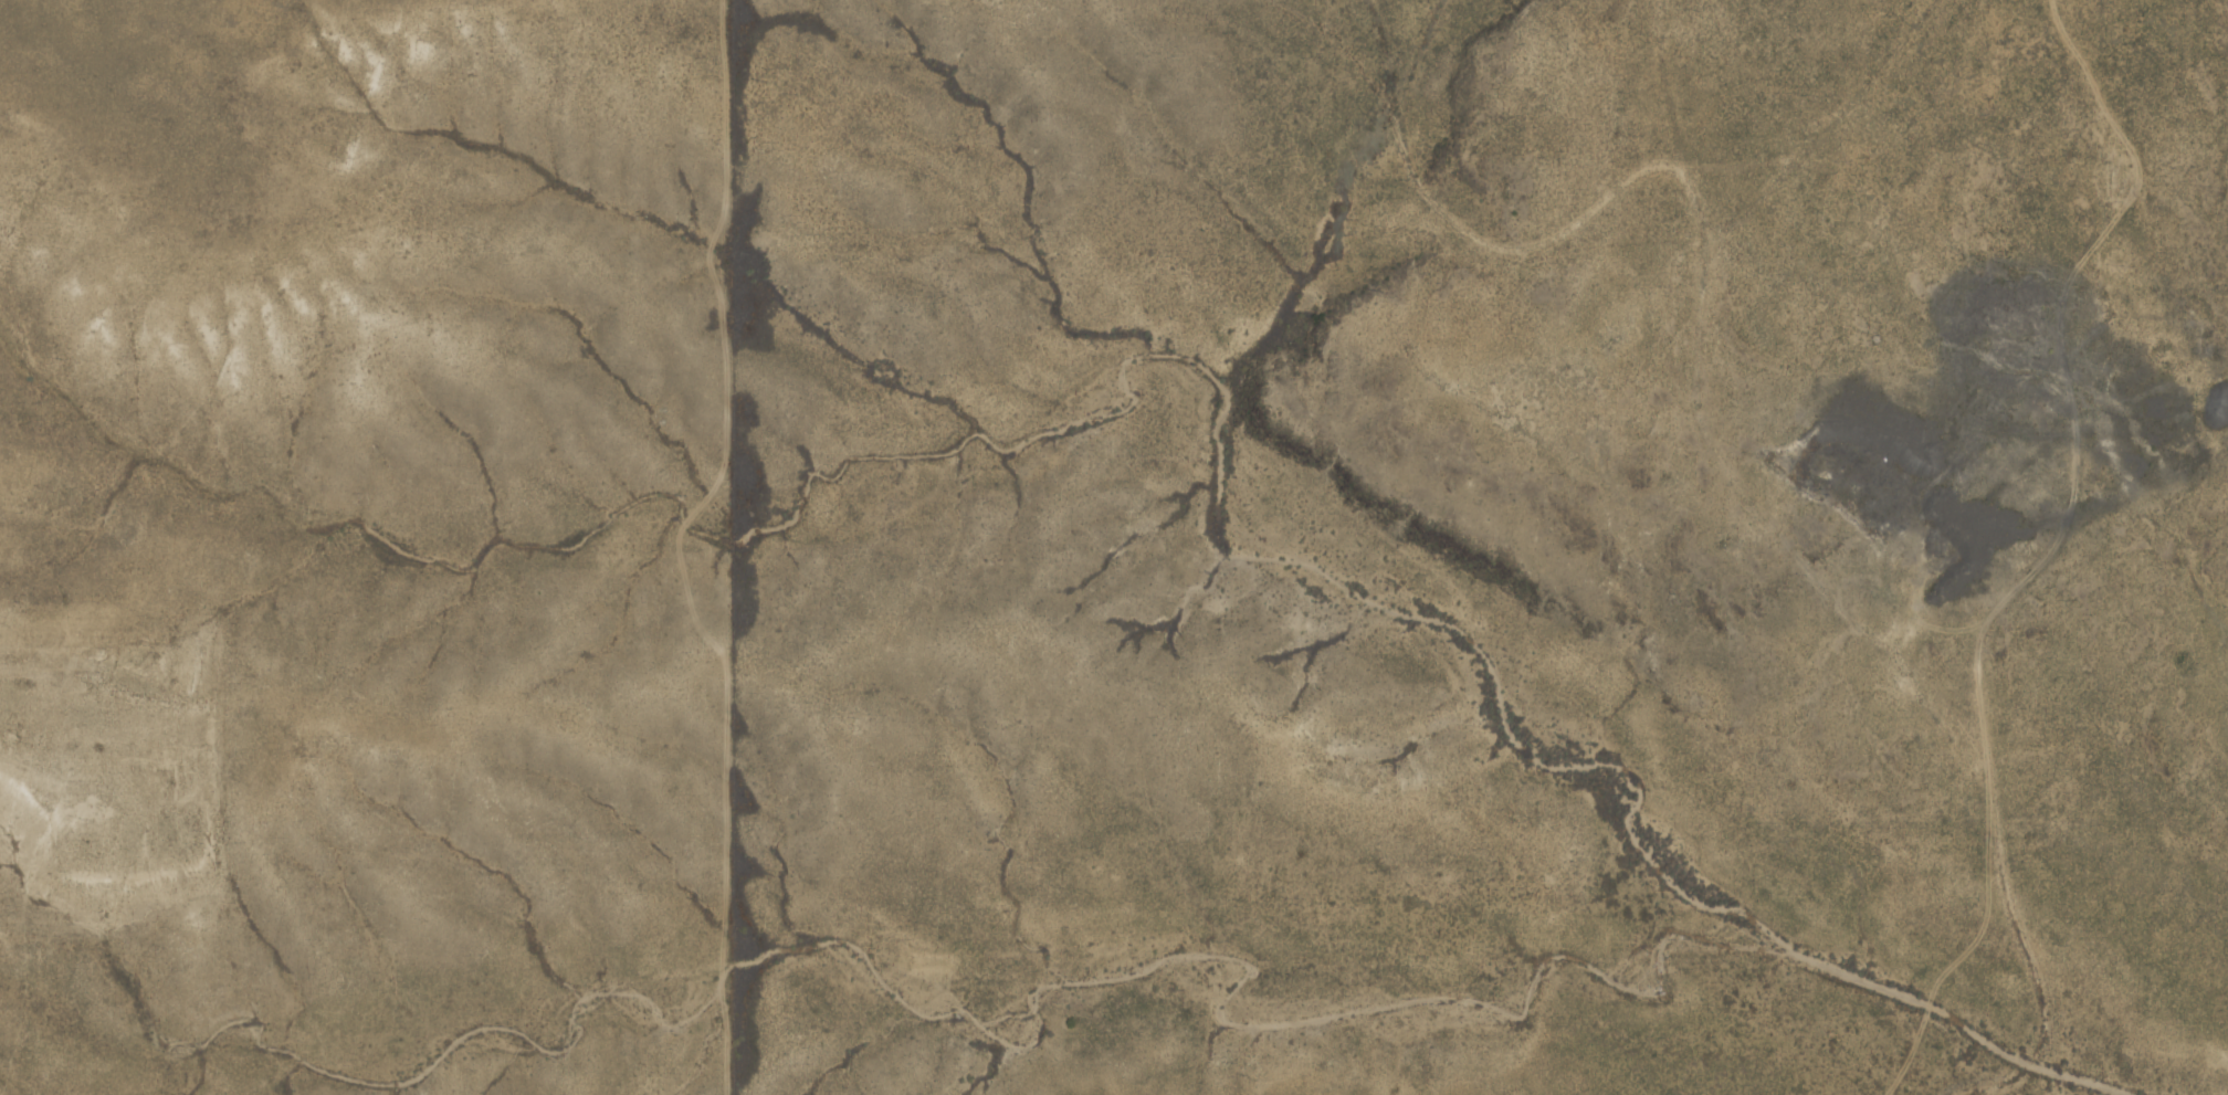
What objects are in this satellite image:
road: (2050, 551)

